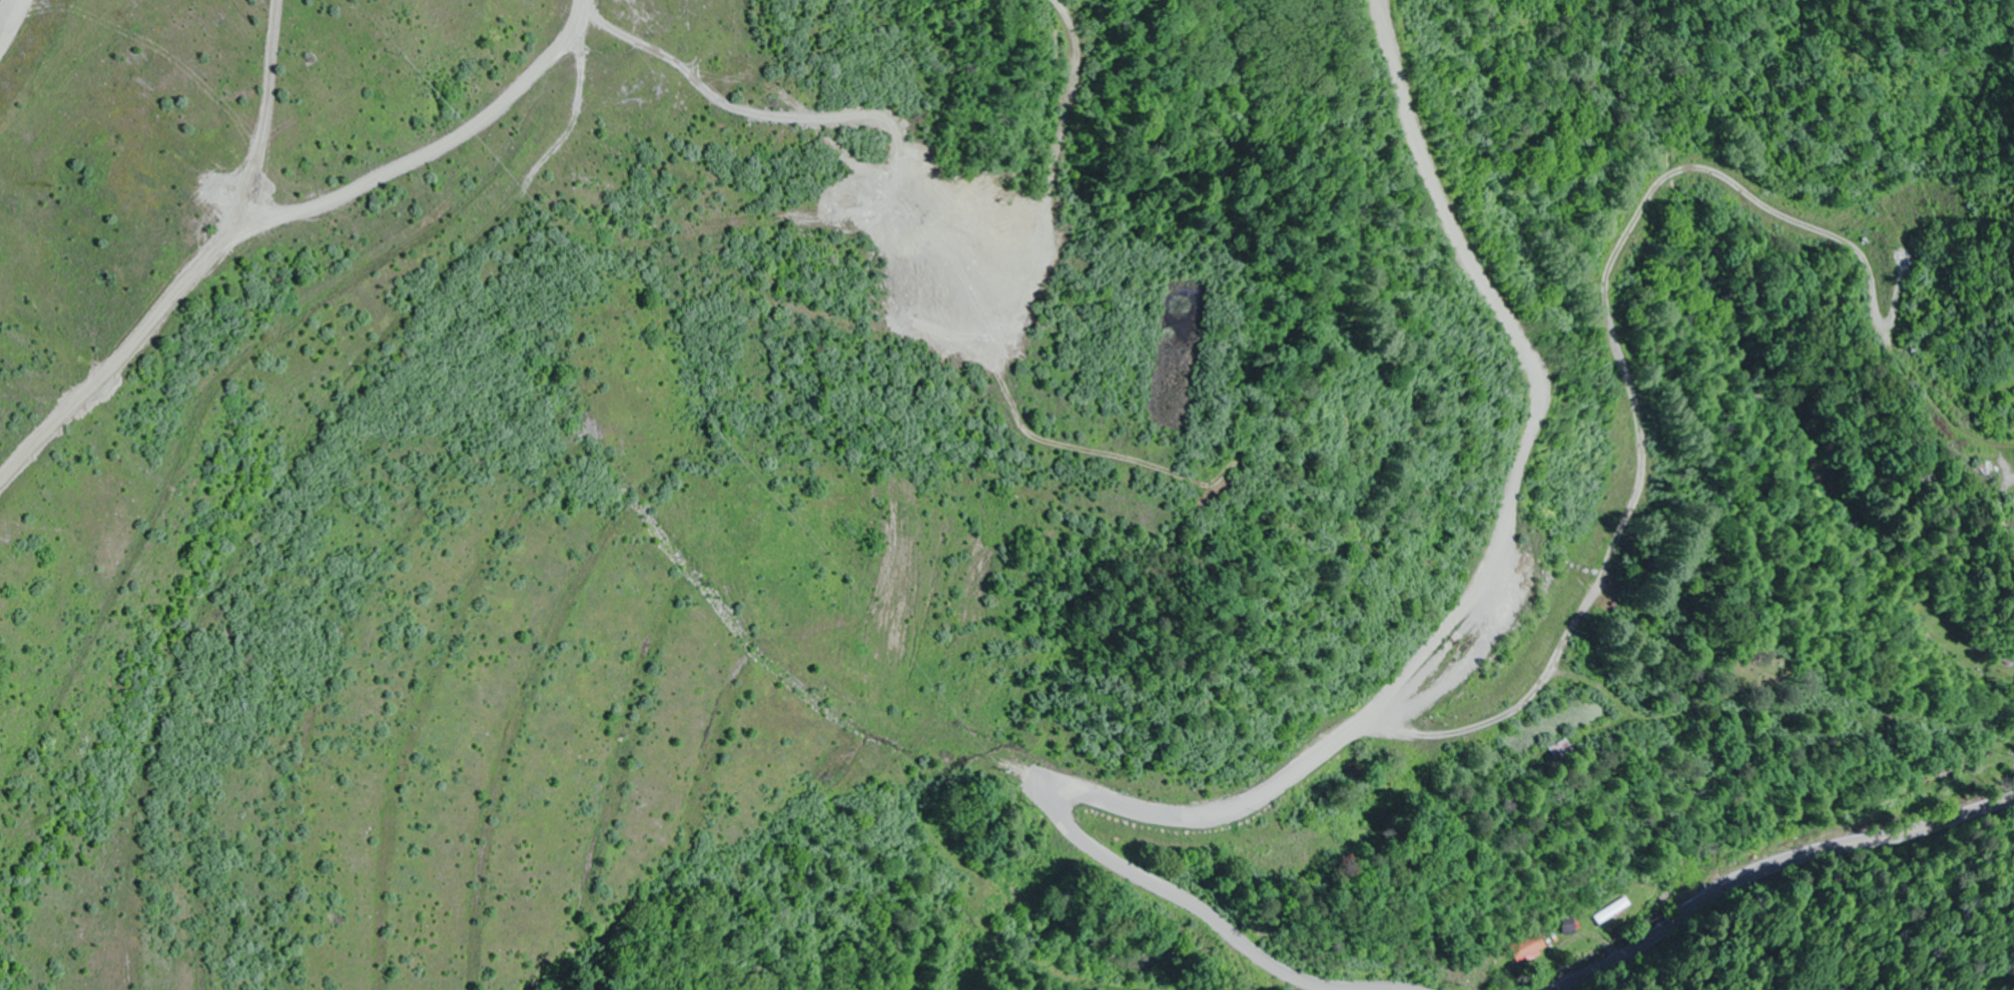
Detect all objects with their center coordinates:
building: (1567, 753)
road: (1776, 865)
building: (1612, 911)
building: (1571, 927)
building: (1529, 948)

